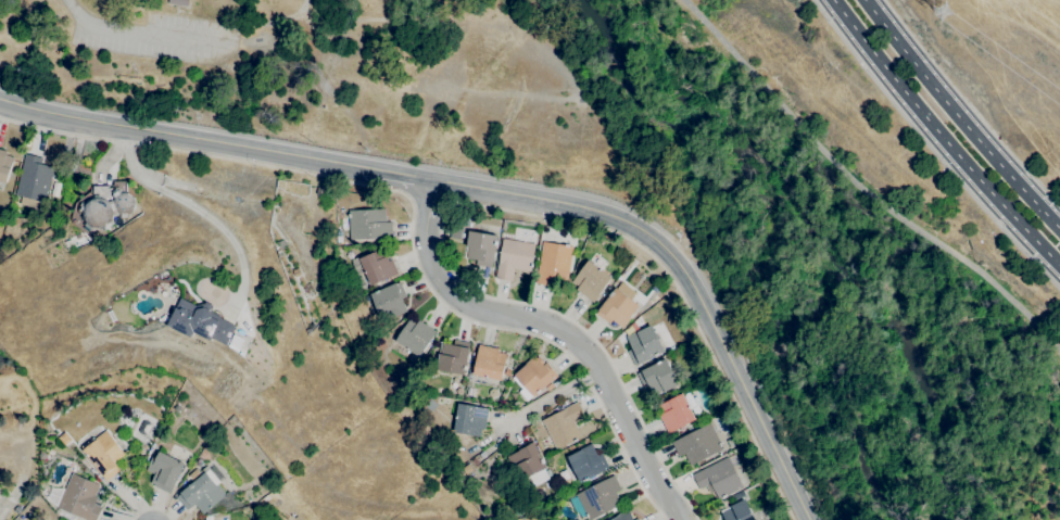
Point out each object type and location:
building: (178, 2)
power tower: (945, 10)
road: (78, 12)
road: (159, 38)
road: (970, 104)
road: (962, 113)
road: (162, 134)
road: (942, 136)
road: (932, 149)
road: (105, 161)
building: (4, 166)
road: (379, 172)
building: (34, 181)
building: (56, 186)
road: (861, 188)
building: (102, 206)
road: (482, 206)
road: (200, 211)
road: (412, 211)
building: (369, 225)
river: (796, 232)
building: (481, 248)
building: (514, 258)
building: (553, 263)
building: (374, 266)
road: (683, 272)
building: (590, 280)
building: (388, 302)
building: (618, 306)
building: (200, 321)
road: (555, 329)
building: (413, 338)
building: (234, 343)
building: (644, 345)
building: (453, 357)
building: (489, 363)
building: (533, 377)
building: (658, 377)
building: (555, 383)
building: (469, 392)
road: (551, 397)
building: (565, 402)
building: (676, 413)
building: (470, 419)
building: (564, 424)
building: (697, 444)
building: (491, 446)
building: (103, 454)
building: (528, 462)
building: (588, 462)
building: (164, 471)
building: (721, 478)
building: (201, 491)
building: (79, 497)
building: (598, 497)
road: (151, 508)
building: (741, 512)
building: (623, 516)
building: (207, 518)
building: (636, 519)

